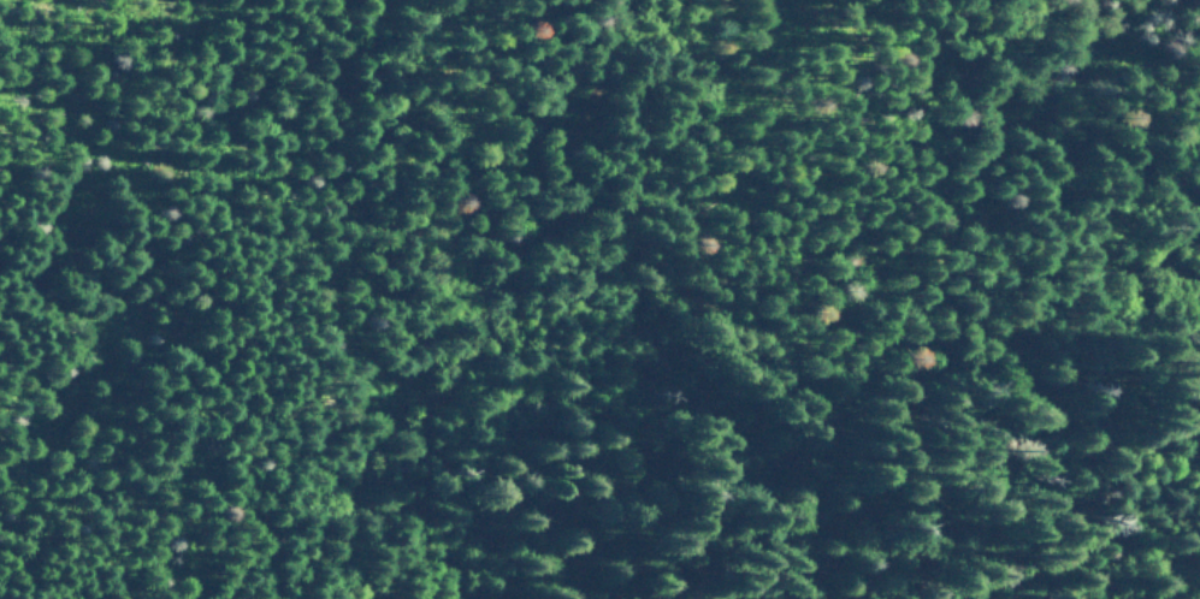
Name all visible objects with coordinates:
road: (472, 299)

